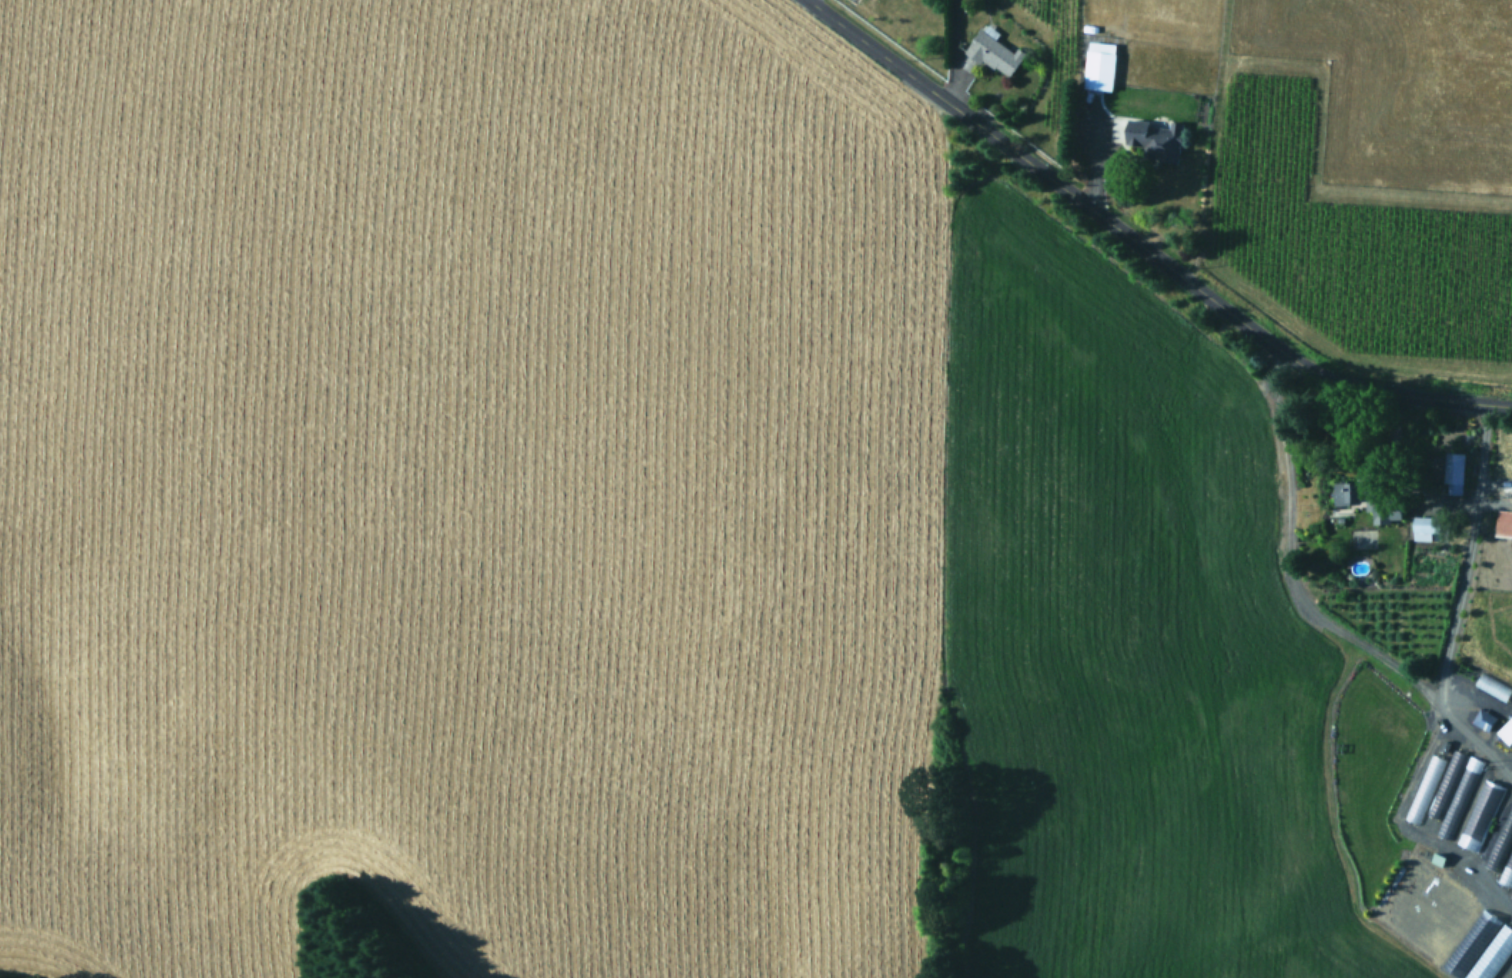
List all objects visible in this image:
road: (953, 51)
building: (993, 53)
building: (1099, 70)
building: (1186, 97)
building: (1156, 140)
road: (1090, 160)
road: (1141, 246)
building: (1453, 472)
crop: (759, 485)
building: (1349, 494)
building: (1504, 522)
building: (1426, 529)
road: (1379, 656)
building: (1483, 720)
building: (1506, 731)
road: (1467, 738)
building: (1451, 791)
building: (1422, 795)
building: (1479, 814)
building: (1501, 840)
building: (1511, 895)

